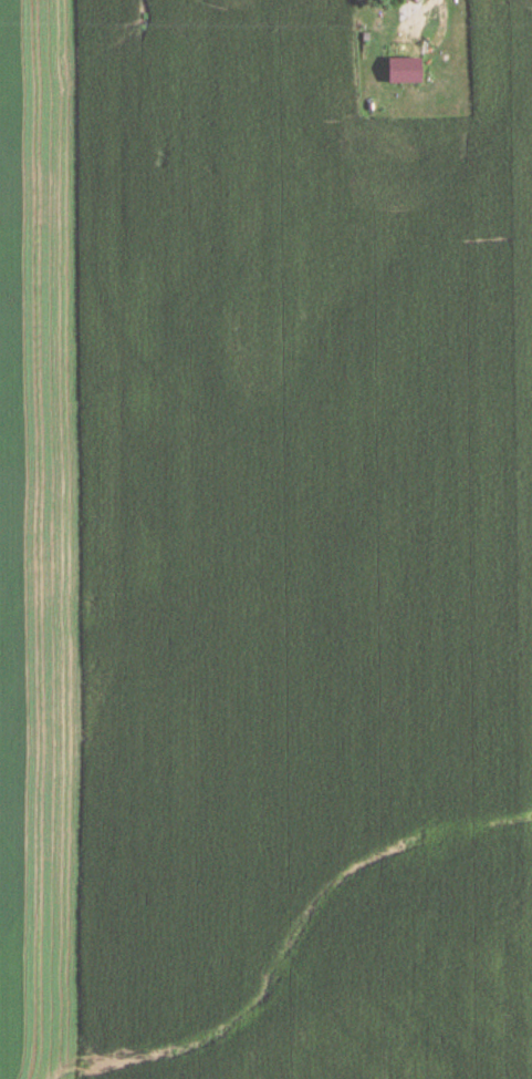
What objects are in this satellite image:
road: (417, 43)
building: (398, 69)

